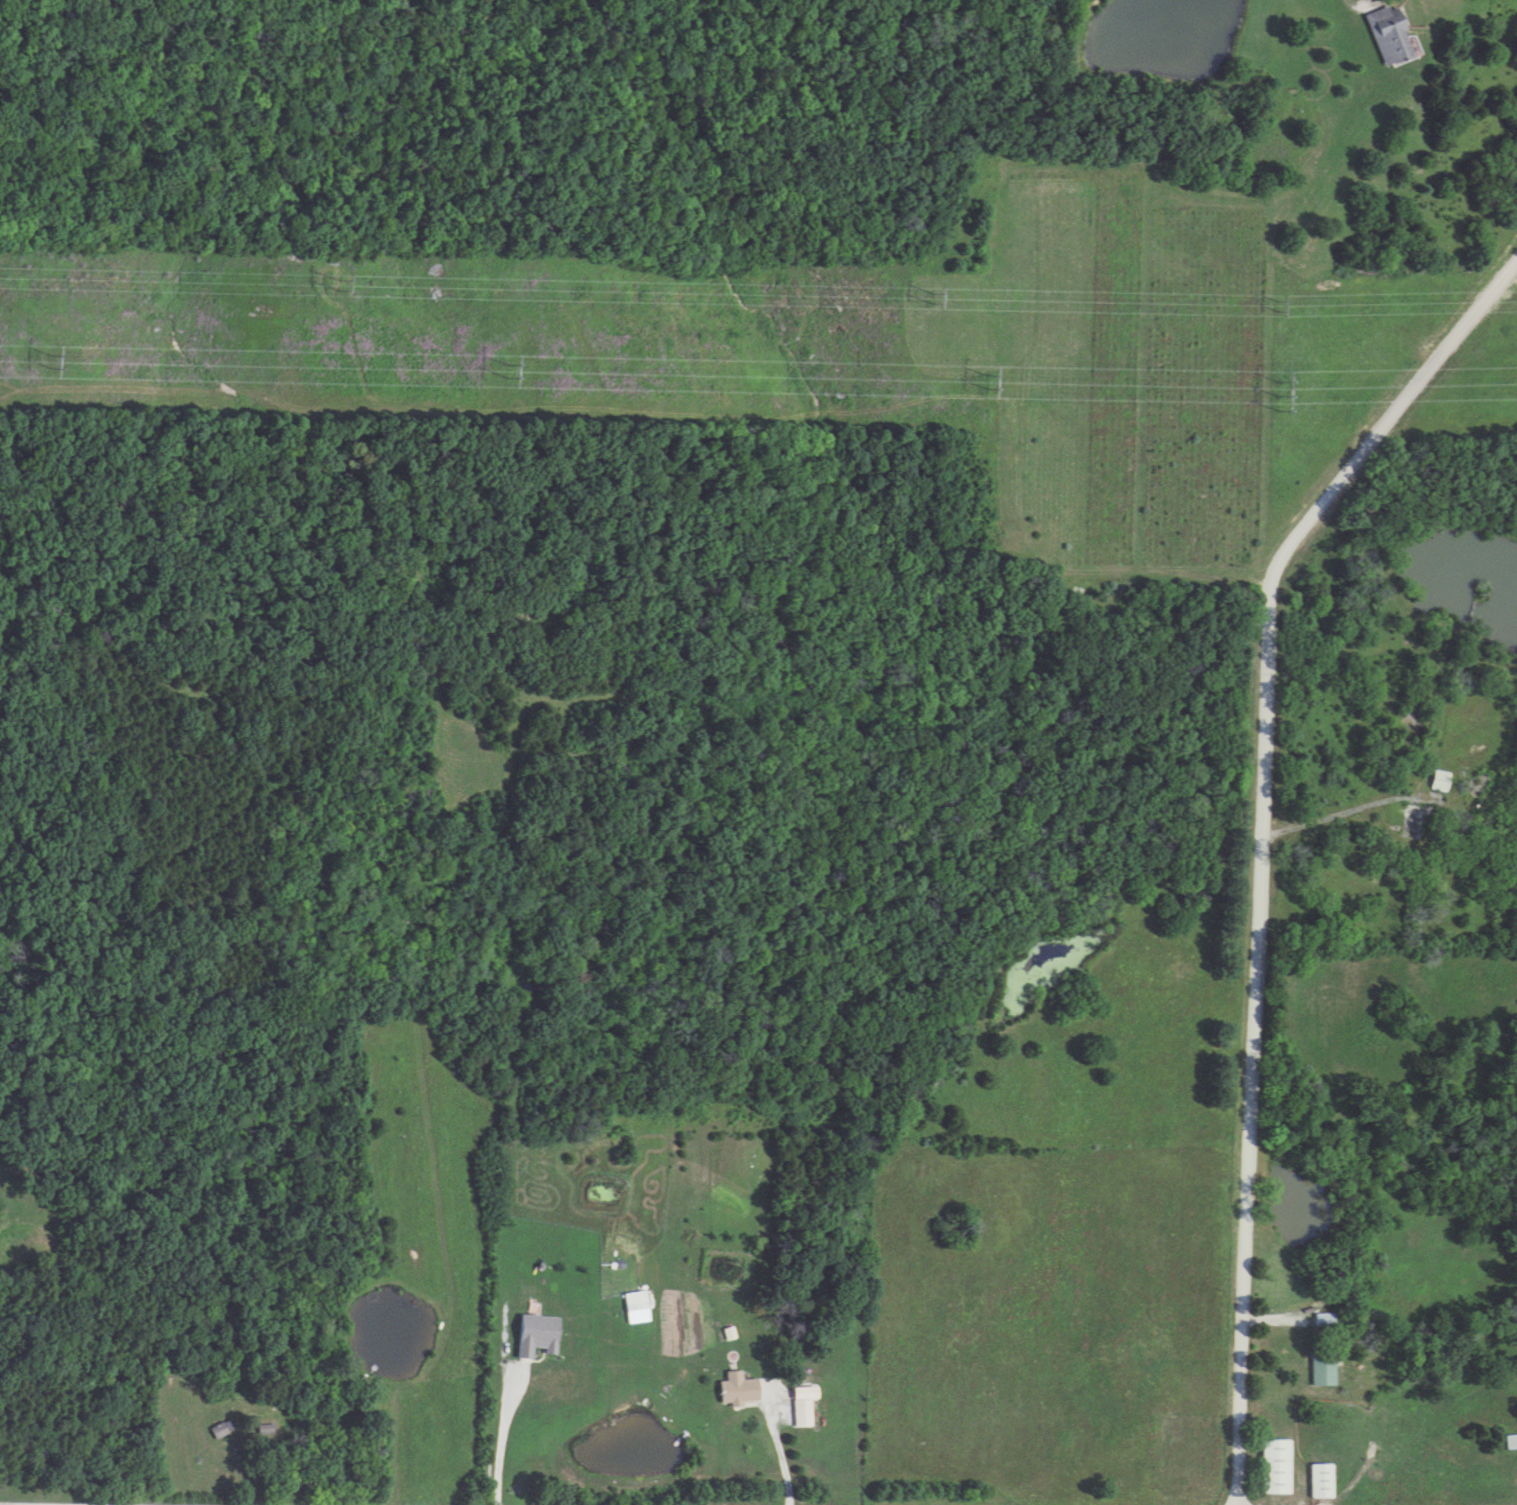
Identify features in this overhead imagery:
road: (1354, 4)
building: (1386, 38)
power tower: (340, 282)
power tower: (931, 297)
power tower: (1267, 305)
power tower: (48, 362)
power tower: (509, 374)
power tower: (985, 382)
power tower: (1275, 397)
building: (1437, 782)
road: (1265, 843)
building: (631, 1303)
building: (1324, 1322)
building: (535, 1336)
building: (1322, 1373)
building: (737, 1393)
building: (800, 1414)
building: (267, 1430)
road: (502, 1437)
building: (1510, 1443)
road: (784, 1454)
building: (1273, 1468)
building: (1319, 1483)

